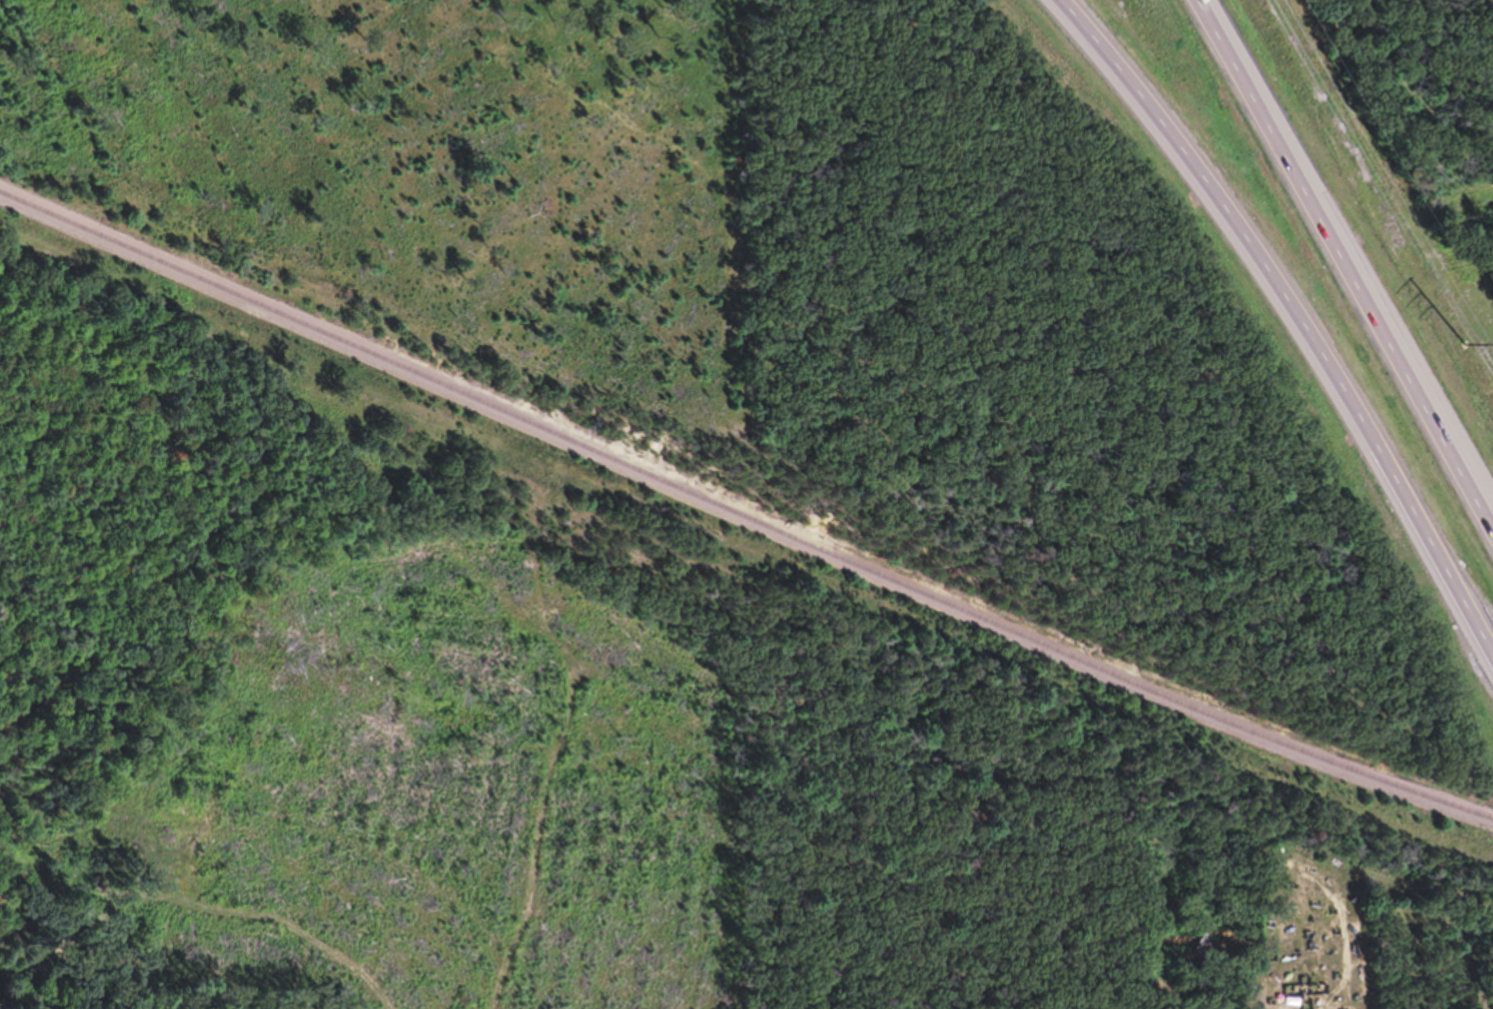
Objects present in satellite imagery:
road: (1353, 258)
road: (1284, 316)
power tower: (1465, 343)
railway: (743, 513)

